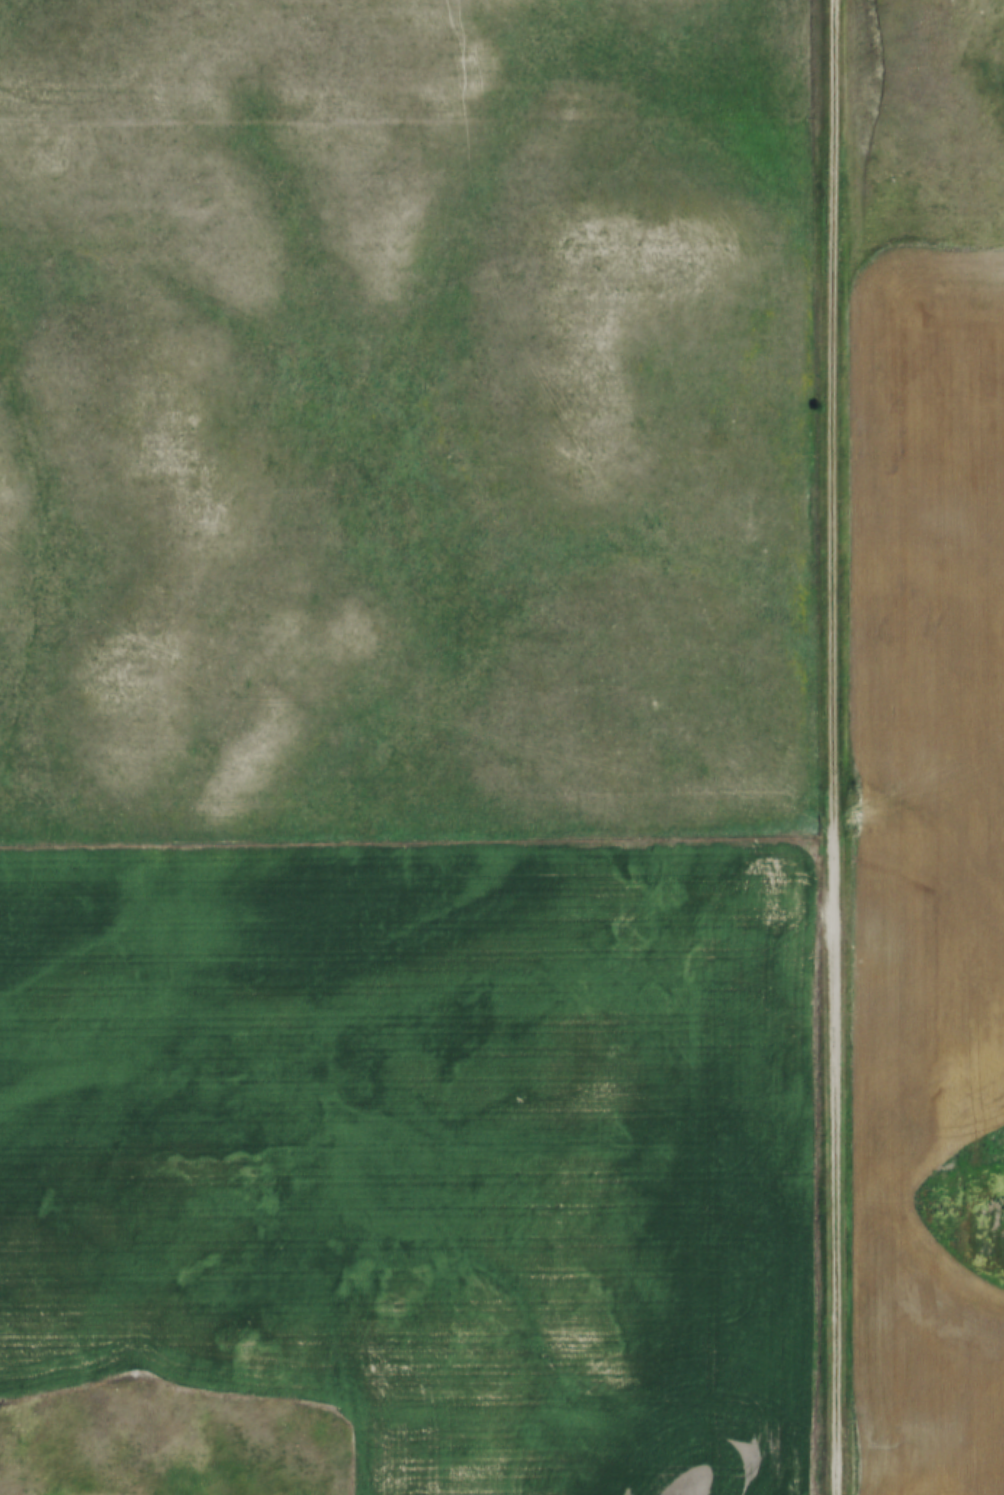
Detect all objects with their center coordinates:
road: (835, 747)

